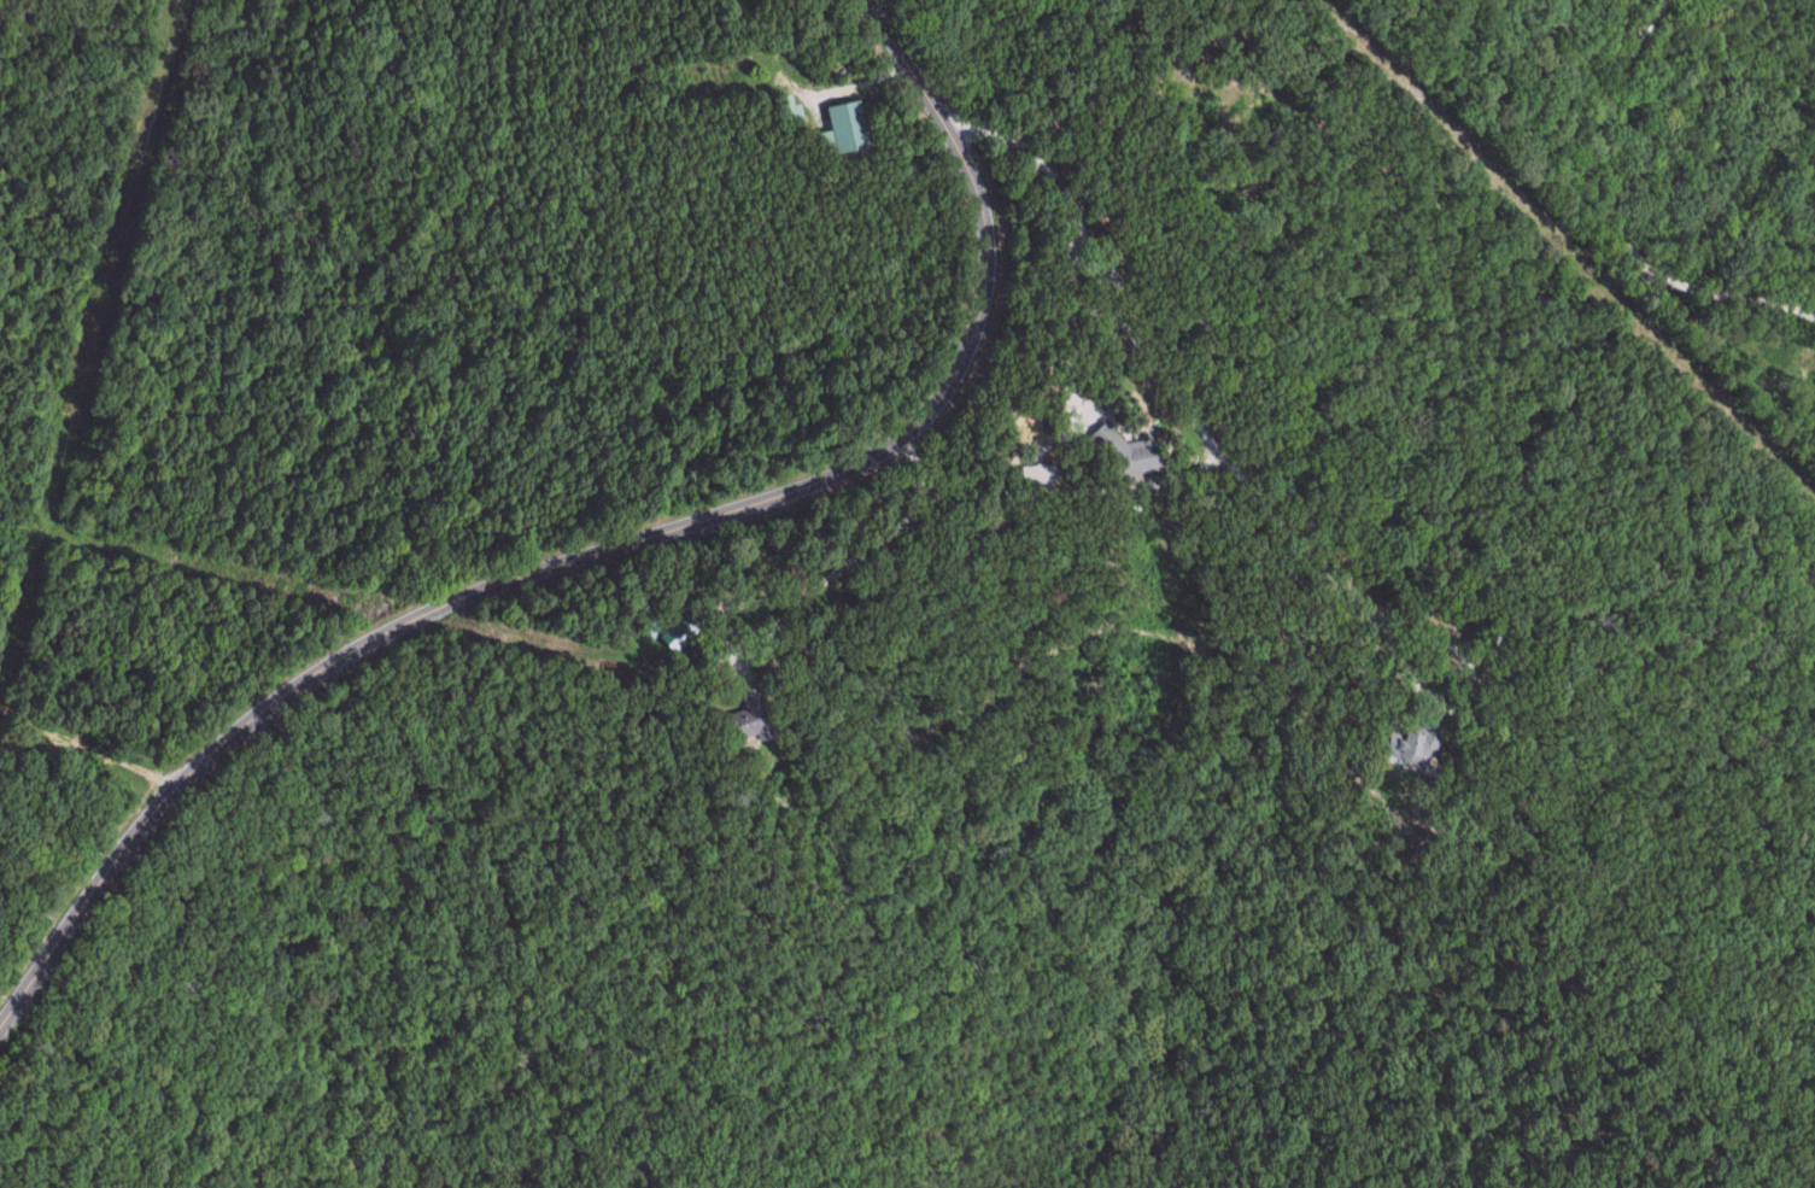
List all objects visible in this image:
road: (1324, 43)
building: (847, 127)
road: (1610, 226)
road: (1151, 423)
building: (1129, 451)
building: (1038, 475)
road: (601, 545)
road: (825, 548)
building: (685, 632)
building: (761, 716)
building: (1419, 743)
road: (92, 754)

